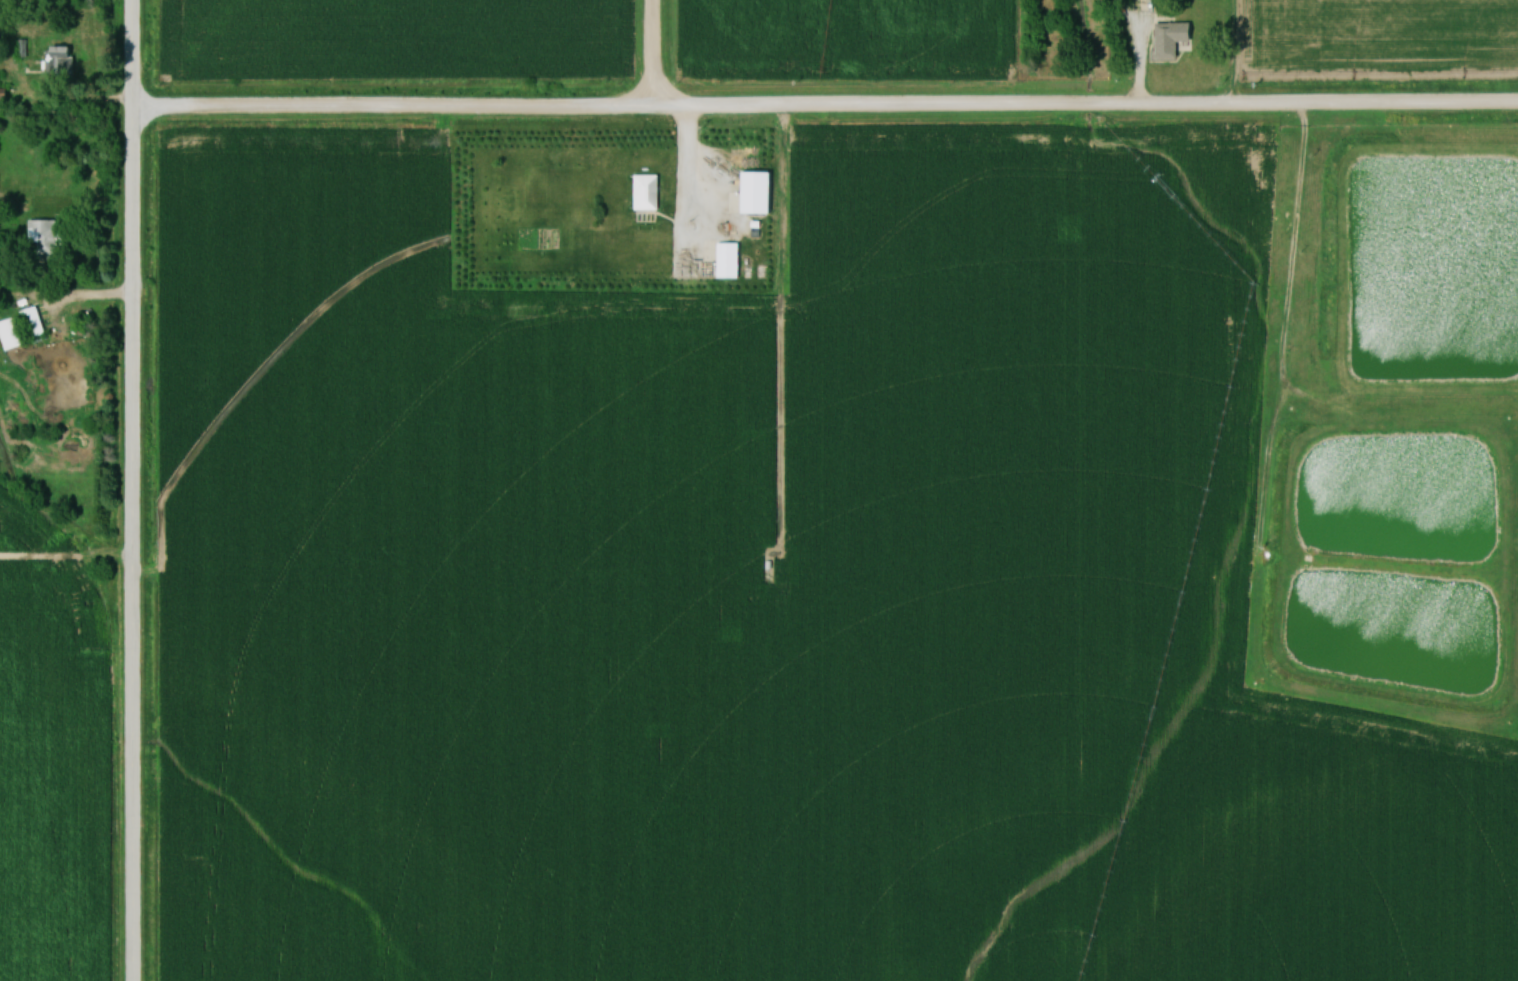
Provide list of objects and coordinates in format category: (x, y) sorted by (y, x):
building: (1176, 38)
crop: (1378, 45)
building: (25, 49)
road: (127, 55)
road: (649, 55)
building: (62, 61)
road: (822, 110)
road: (685, 175)
building: (648, 192)
building: (759, 192)
building: (45, 239)
road: (1288, 250)
building: (730, 262)
building: (24, 330)
road: (128, 545)

